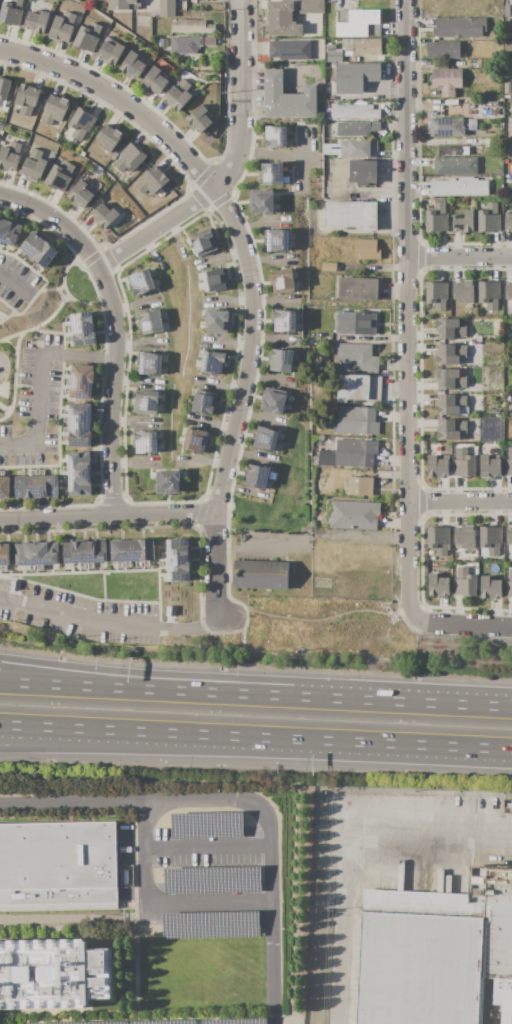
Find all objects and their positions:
building: (125, 5)
road: (150, 5)
building: (310, 7)
building: (167, 8)
building: (11, 12)
building: (282, 19)
building: (37, 21)
building: (358, 23)
building: (192, 26)
building: (459, 27)
building: (62, 28)
building: (88, 37)
building: (163, 43)
building: (189, 44)
building: (366, 47)
building: (443, 49)
building: (508, 49)
building: (290, 50)
building: (111, 52)
building: (334, 56)
building: (440, 63)
building: (132, 66)
building: (356, 76)
building: (154, 81)
building: (446, 81)
building: (507, 87)
building: (4, 91)
building: (178, 95)
building: (287, 98)
building: (27, 99)
building: (490, 104)
building: (54, 109)
building: (354, 111)
building: (491, 113)
building: (199, 119)
building: (81, 123)
building: (472, 124)
building: (446, 127)
building: (357, 129)
building: (275, 137)
building: (109, 138)
building: (327, 149)
building: (357, 149)
building: (460, 150)
road: (276, 154)
building: (9, 157)
building: (129, 158)
road: (230, 165)
building: (34, 166)
building: (455, 166)
building: (362, 172)
building: (272, 173)
building: (59, 176)
building: (152, 180)
building: (459, 187)
building: (80, 195)
building: (261, 202)
building: (352, 214)
building: (104, 216)
road: (386, 216)
road: (397, 216)
building: (489, 218)
building: (436, 219)
building: (463, 222)
building: (508, 222)
building: (8, 231)
building: (276, 240)
building: (203, 242)
building: (366, 249)
building: (39, 250)
road: (459, 256)
road: (407, 265)
building: (329, 266)
road: (249, 273)
building: (215, 280)
building: (281, 281)
road: (13, 282)
building: (141, 282)
building: (358, 289)
building: (508, 290)
building: (464, 292)
building: (489, 294)
building: (437, 295)
building: (151, 321)
building: (284, 321)
building: (218, 322)
building: (355, 323)
road: (115, 326)
building: (83, 329)
building: (450, 329)
building: (449, 354)
building: (356, 356)
building: (281, 361)
building: (149, 363)
building: (213, 363)
road: (41, 379)
building: (449, 379)
building: (81, 382)
building: (358, 389)
building: (508, 398)
building: (273, 401)
building: (204, 402)
building: (145, 403)
building: (450, 404)
building: (497, 412)
building: (357, 420)
building: (80, 425)
building: (451, 430)
building: (265, 438)
building: (198, 441)
building: (145, 442)
building: (355, 453)
building: (322, 457)
building: (329, 458)
building: (509, 462)
building: (463, 463)
building: (437, 467)
building: (489, 467)
building: (79, 473)
building: (257, 476)
building: (167, 483)
building: (359, 486)
building: (4, 487)
building: (36, 487)
road: (460, 501)
road: (106, 515)
building: (353, 515)
building: (465, 536)
building: (509, 536)
building: (439, 540)
building: (490, 541)
road: (256, 549)
building: (133, 552)
building: (84, 553)
building: (37, 554)
building: (4, 556)
building: (177, 559)
building: (261, 575)
road: (408, 575)
building: (465, 583)
building: (438, 585)
building: (509, 585)
building: (490, 587)
road: (108, 622)
road: (304, 624)
road: (462, 625)
road: (104, 676)
road: (104, 686)
road: (360, 699)
road: (100, 729)
road: (100, 740)
road: (356, 741)
road: (240, 797)
building: (507, 806)
parking lot: (206, 847)
road: (349, 847)
road: (207, 848)
building: (249, 859)
building: (58, 866)
road: (158, 904)
parking lot: (207, 905)
building: (497, 931)
building: (421, 958)
building: (52, 974)
railway: (489, 1020)
railway: (497, 1022)

